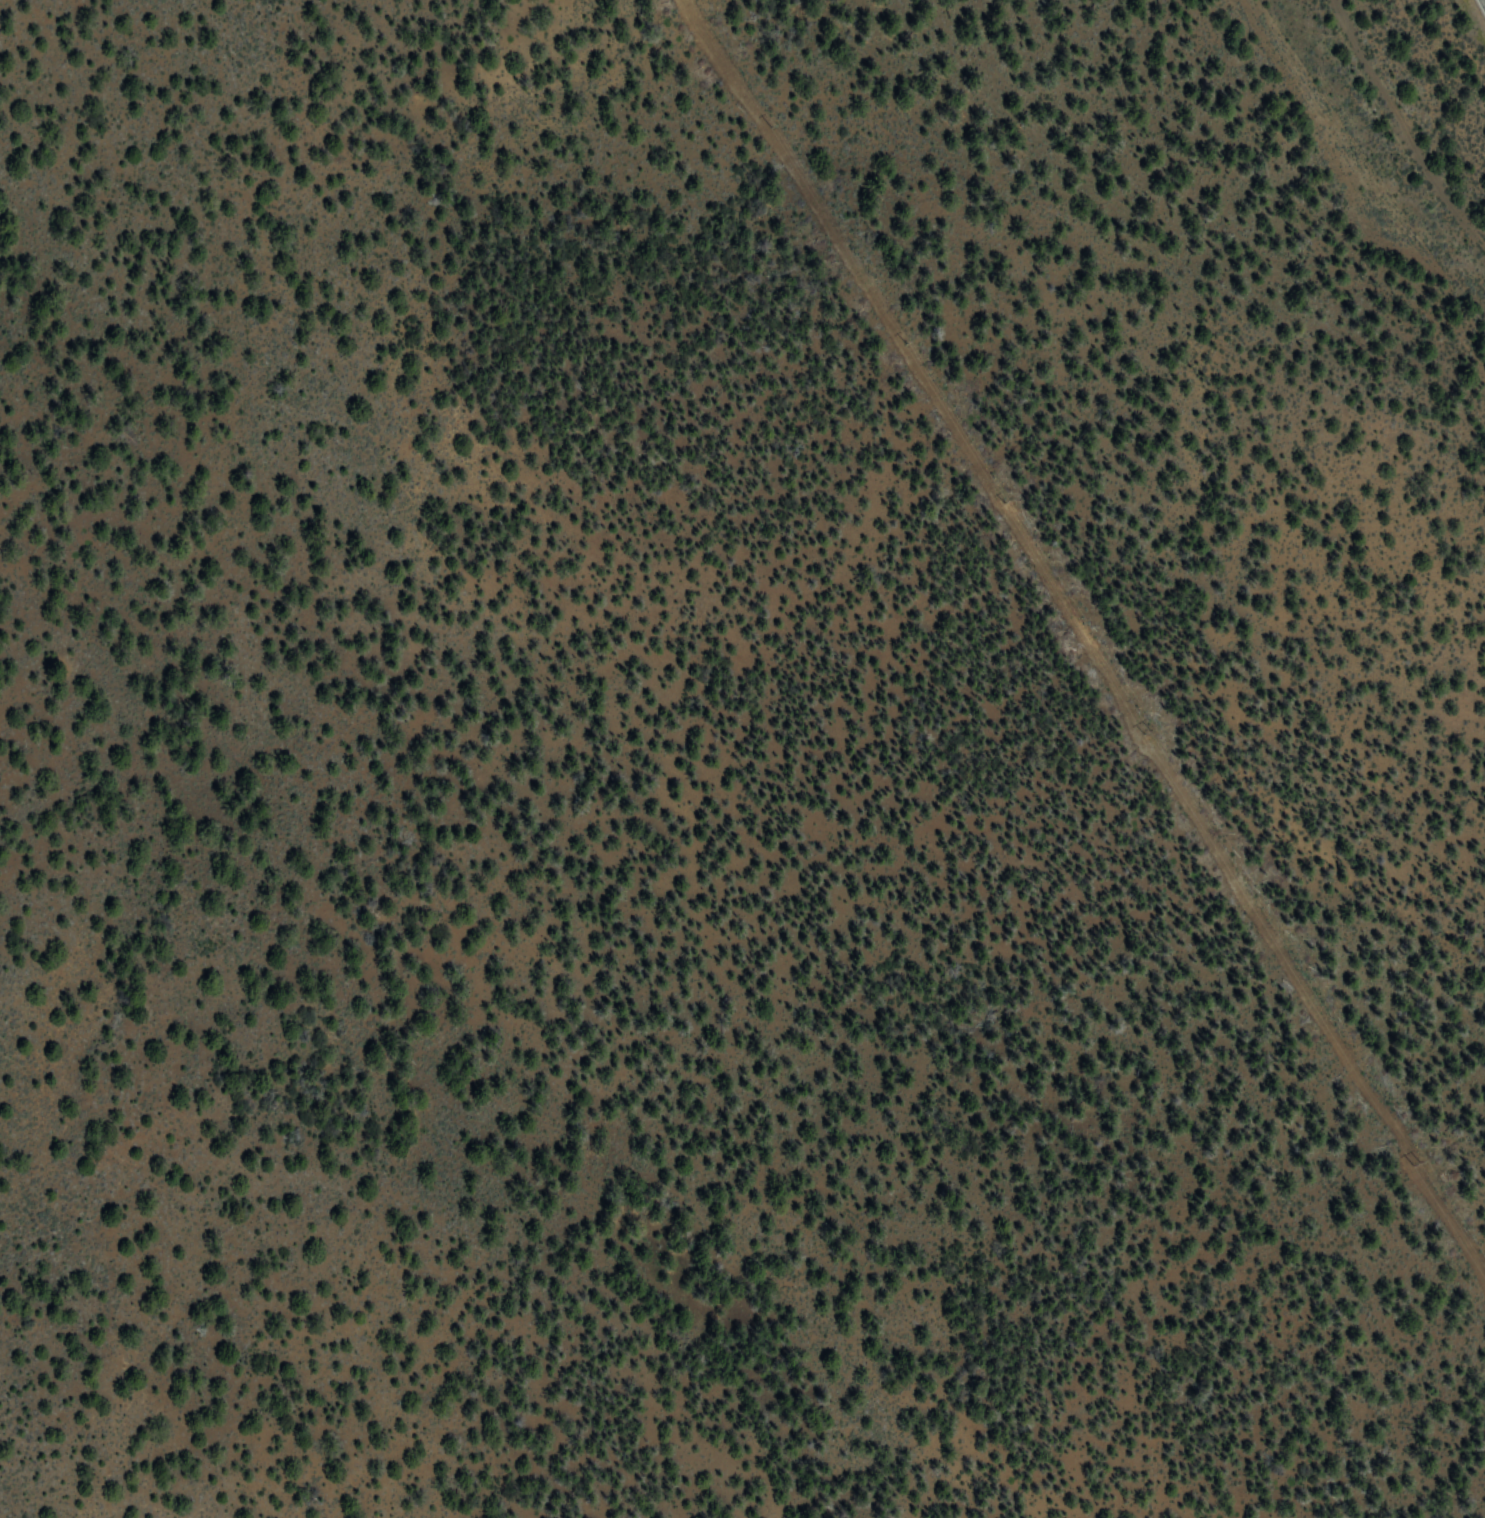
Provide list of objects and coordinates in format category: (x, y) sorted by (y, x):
road: (1401, 128)

